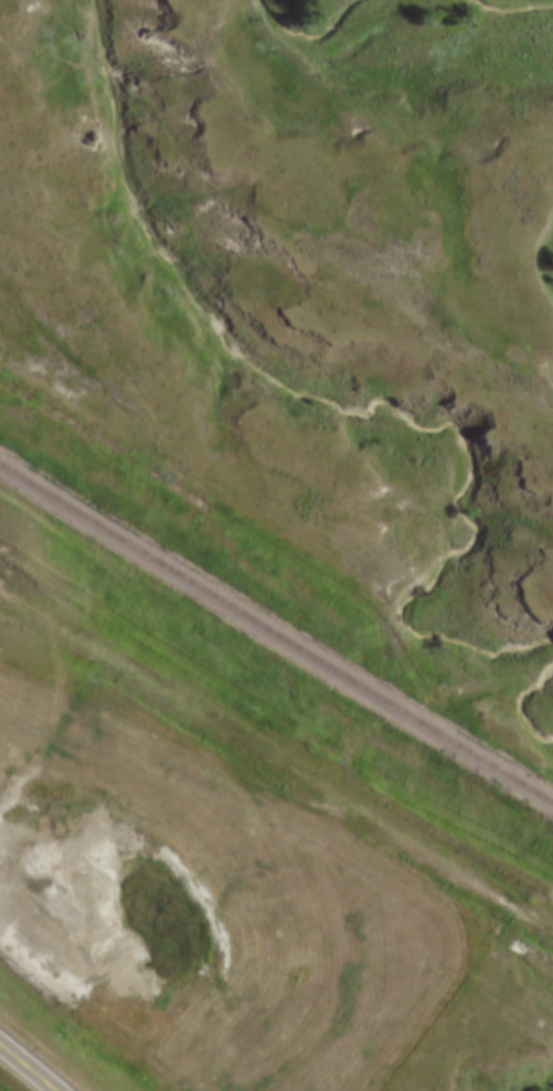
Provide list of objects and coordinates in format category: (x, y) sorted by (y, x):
railway: (276, 634)
road: (276, 756)
road: (21, 1072)

